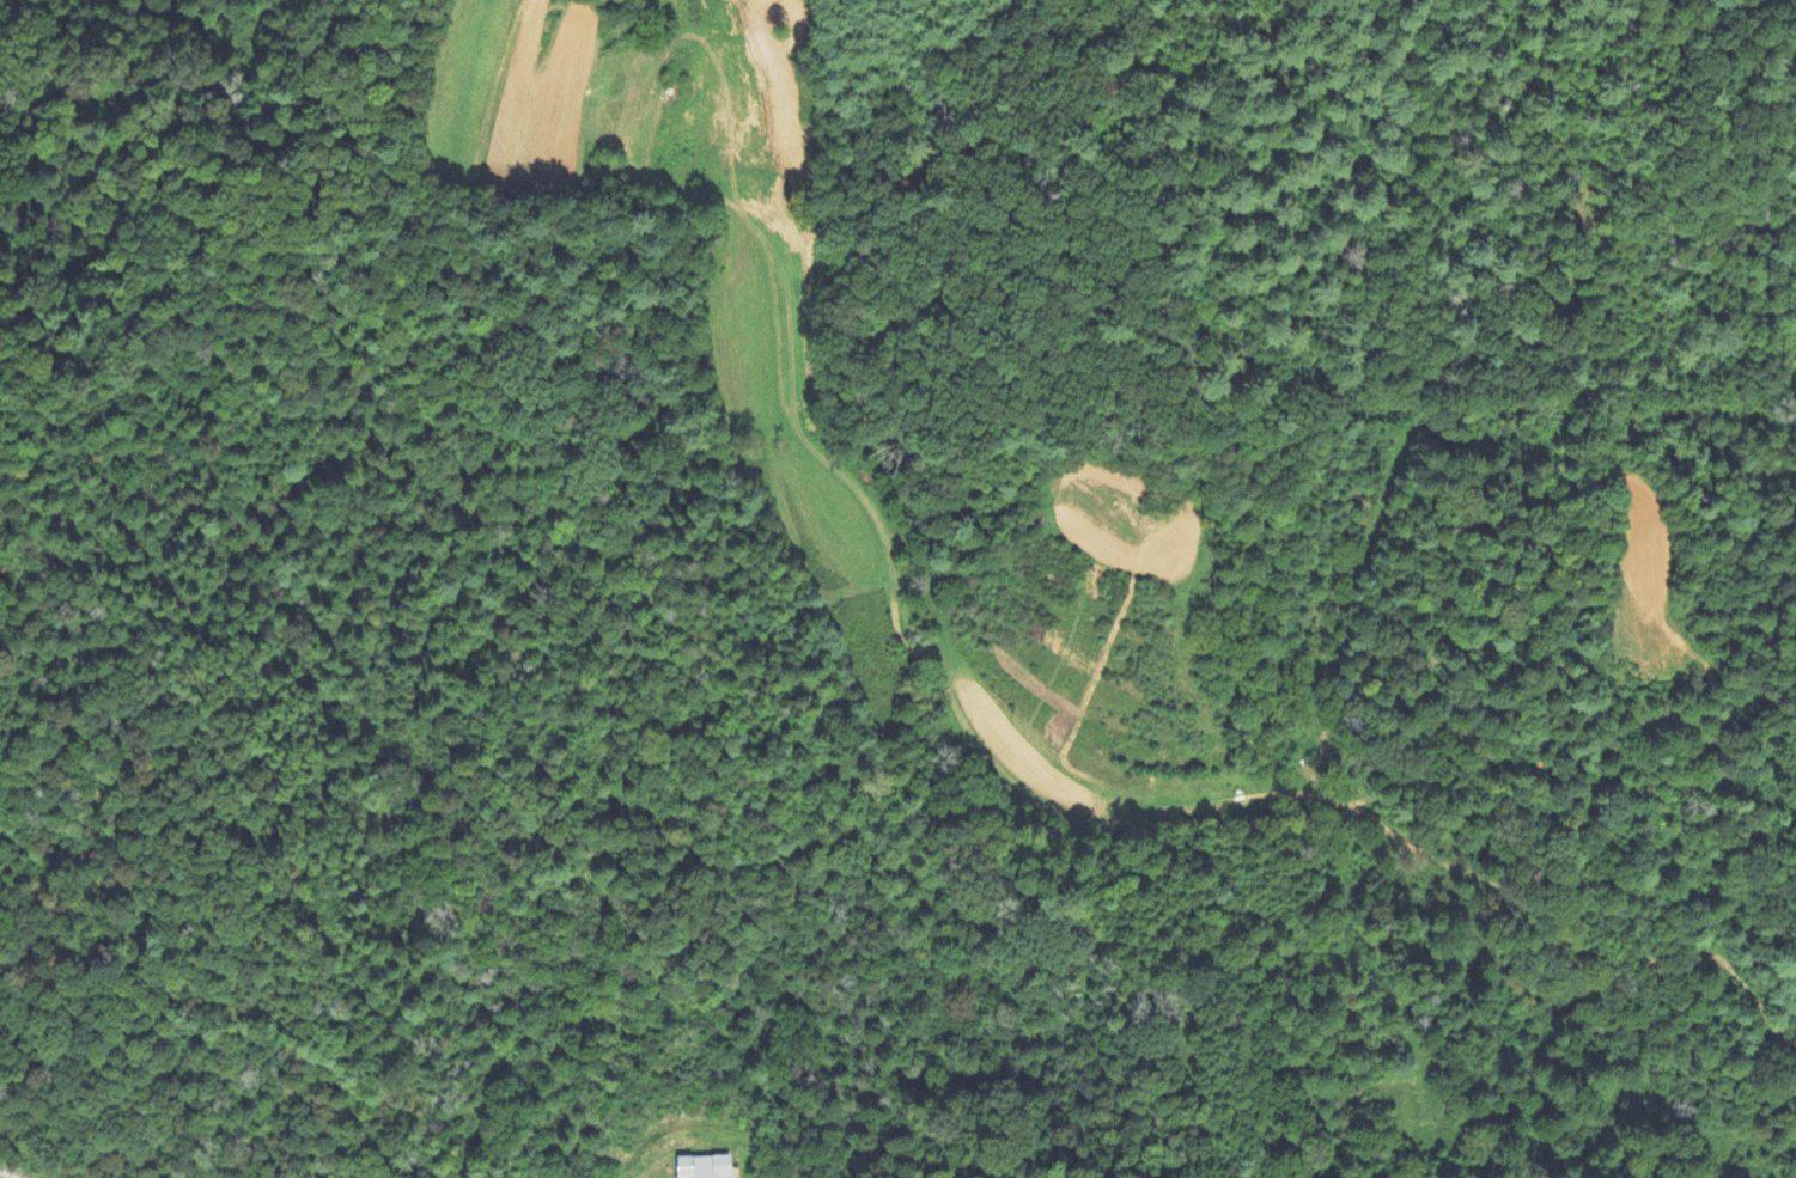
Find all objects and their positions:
building: (775, 10)
building: (705, 1168)

